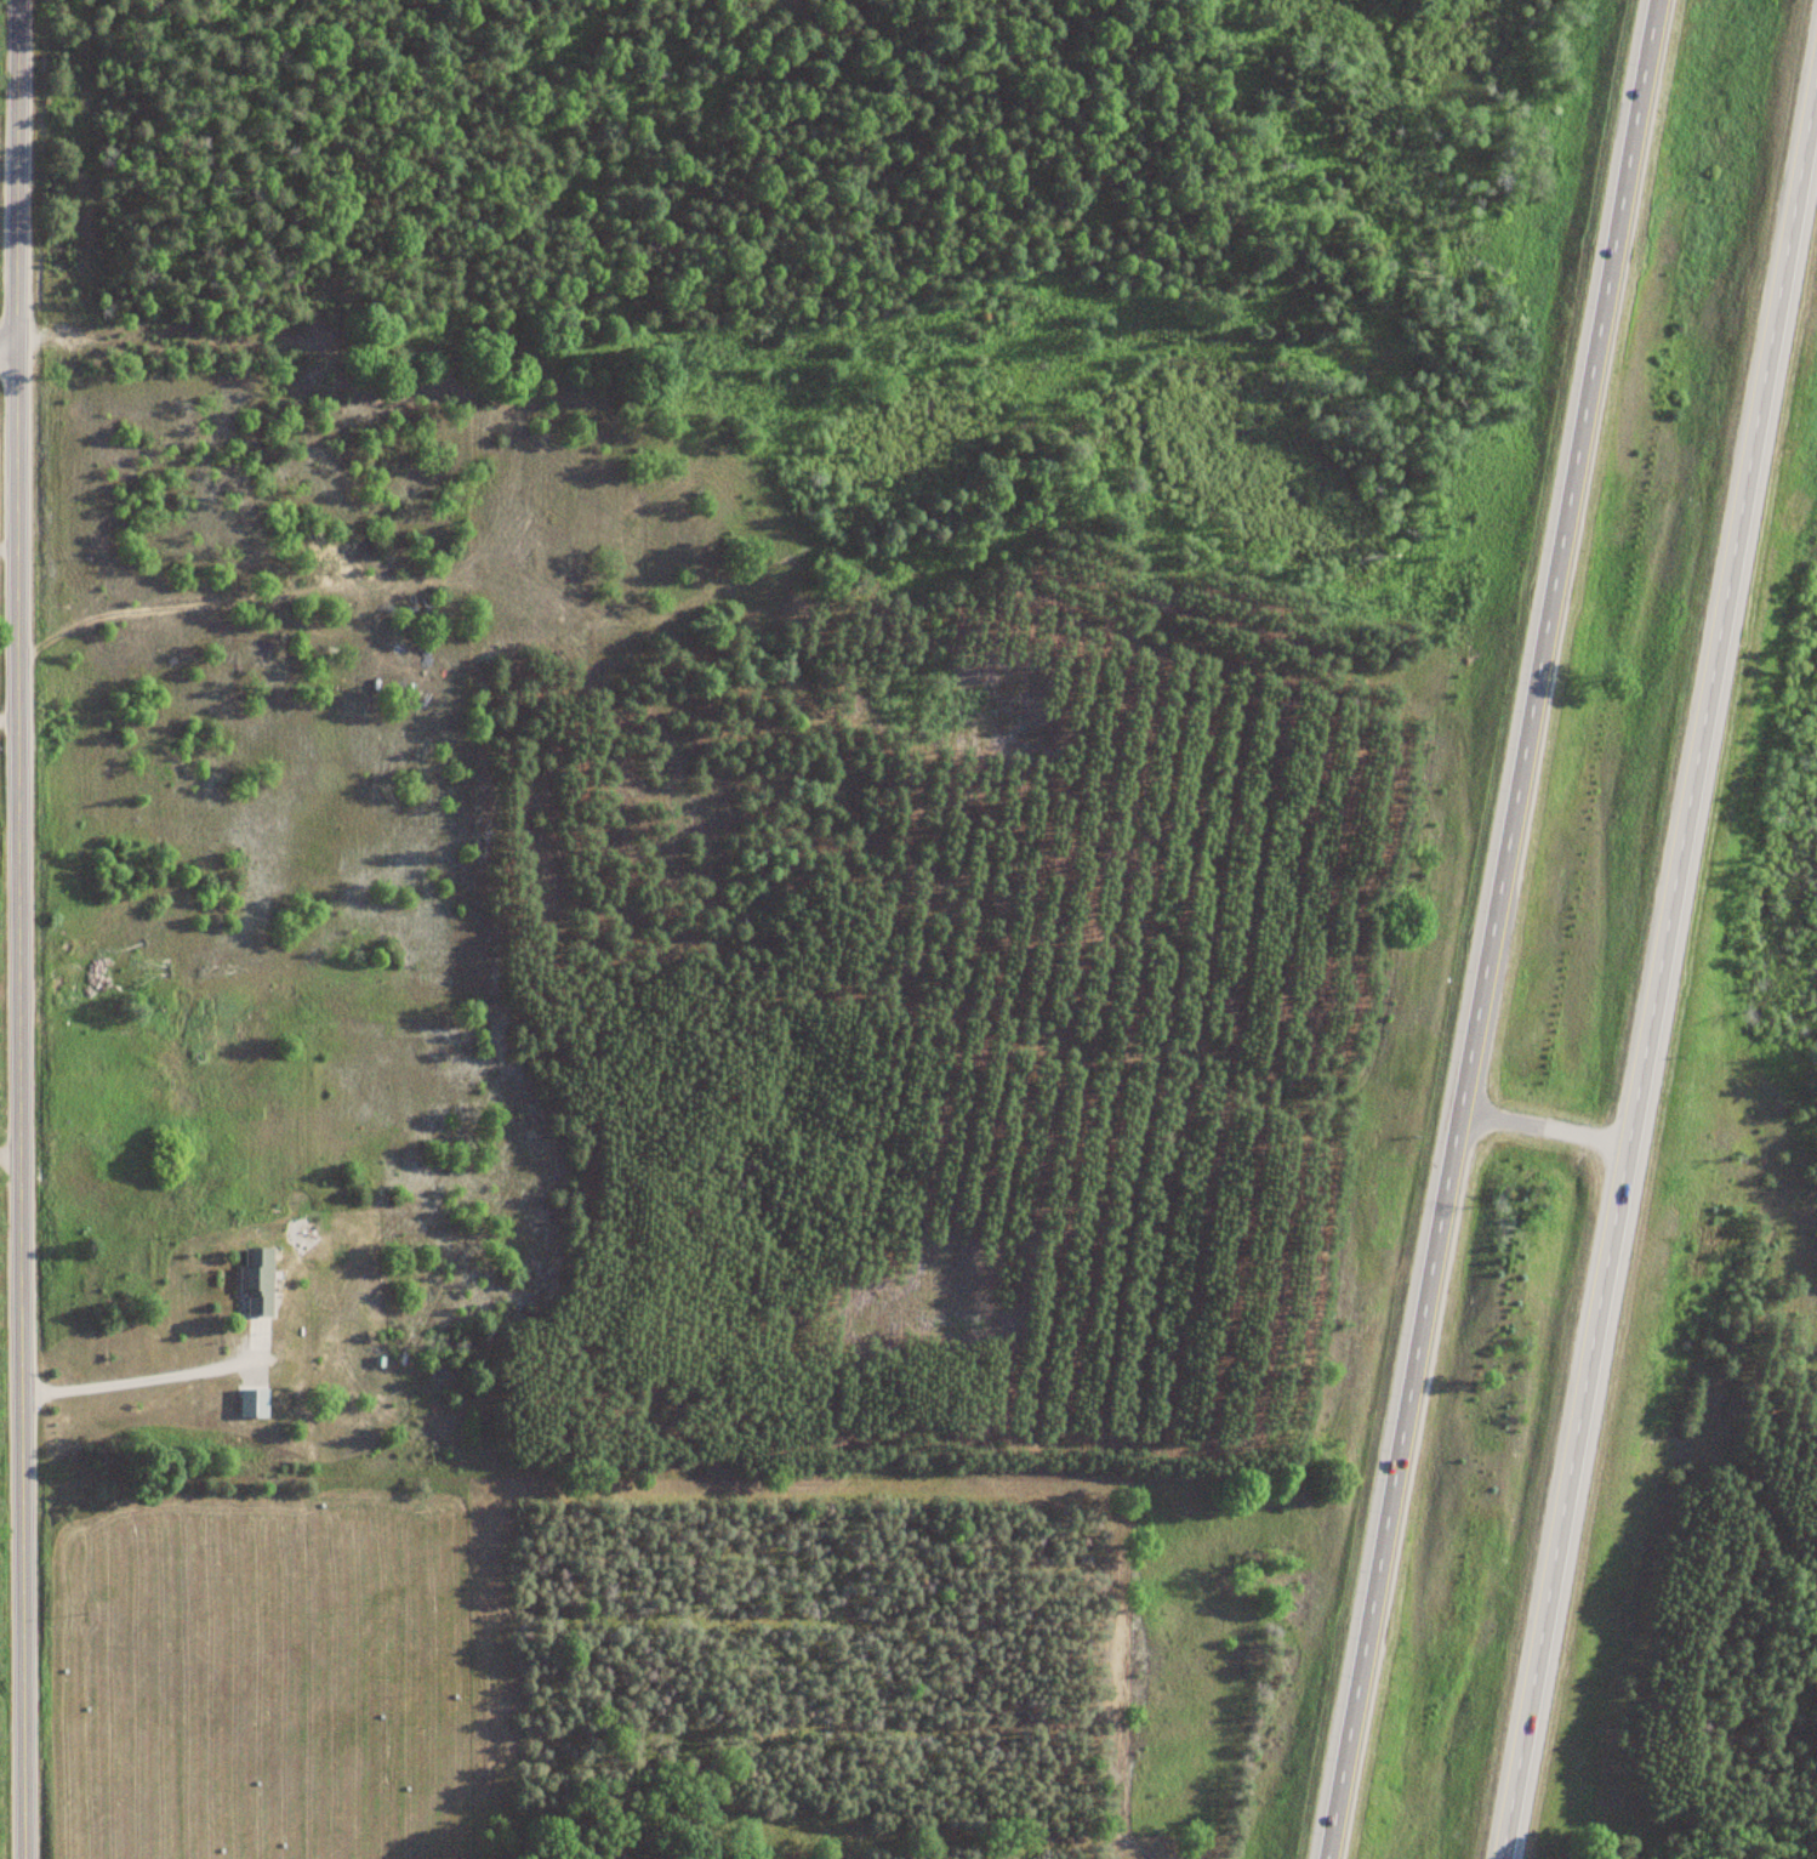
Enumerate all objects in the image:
road: (16, 174)
road: (7, 347)
park: (2, 616)
road: (1491, 929)
road: (1659, 968)
road: (18, 1103)
road: (1544, 1126)
building: (256, 1281)

